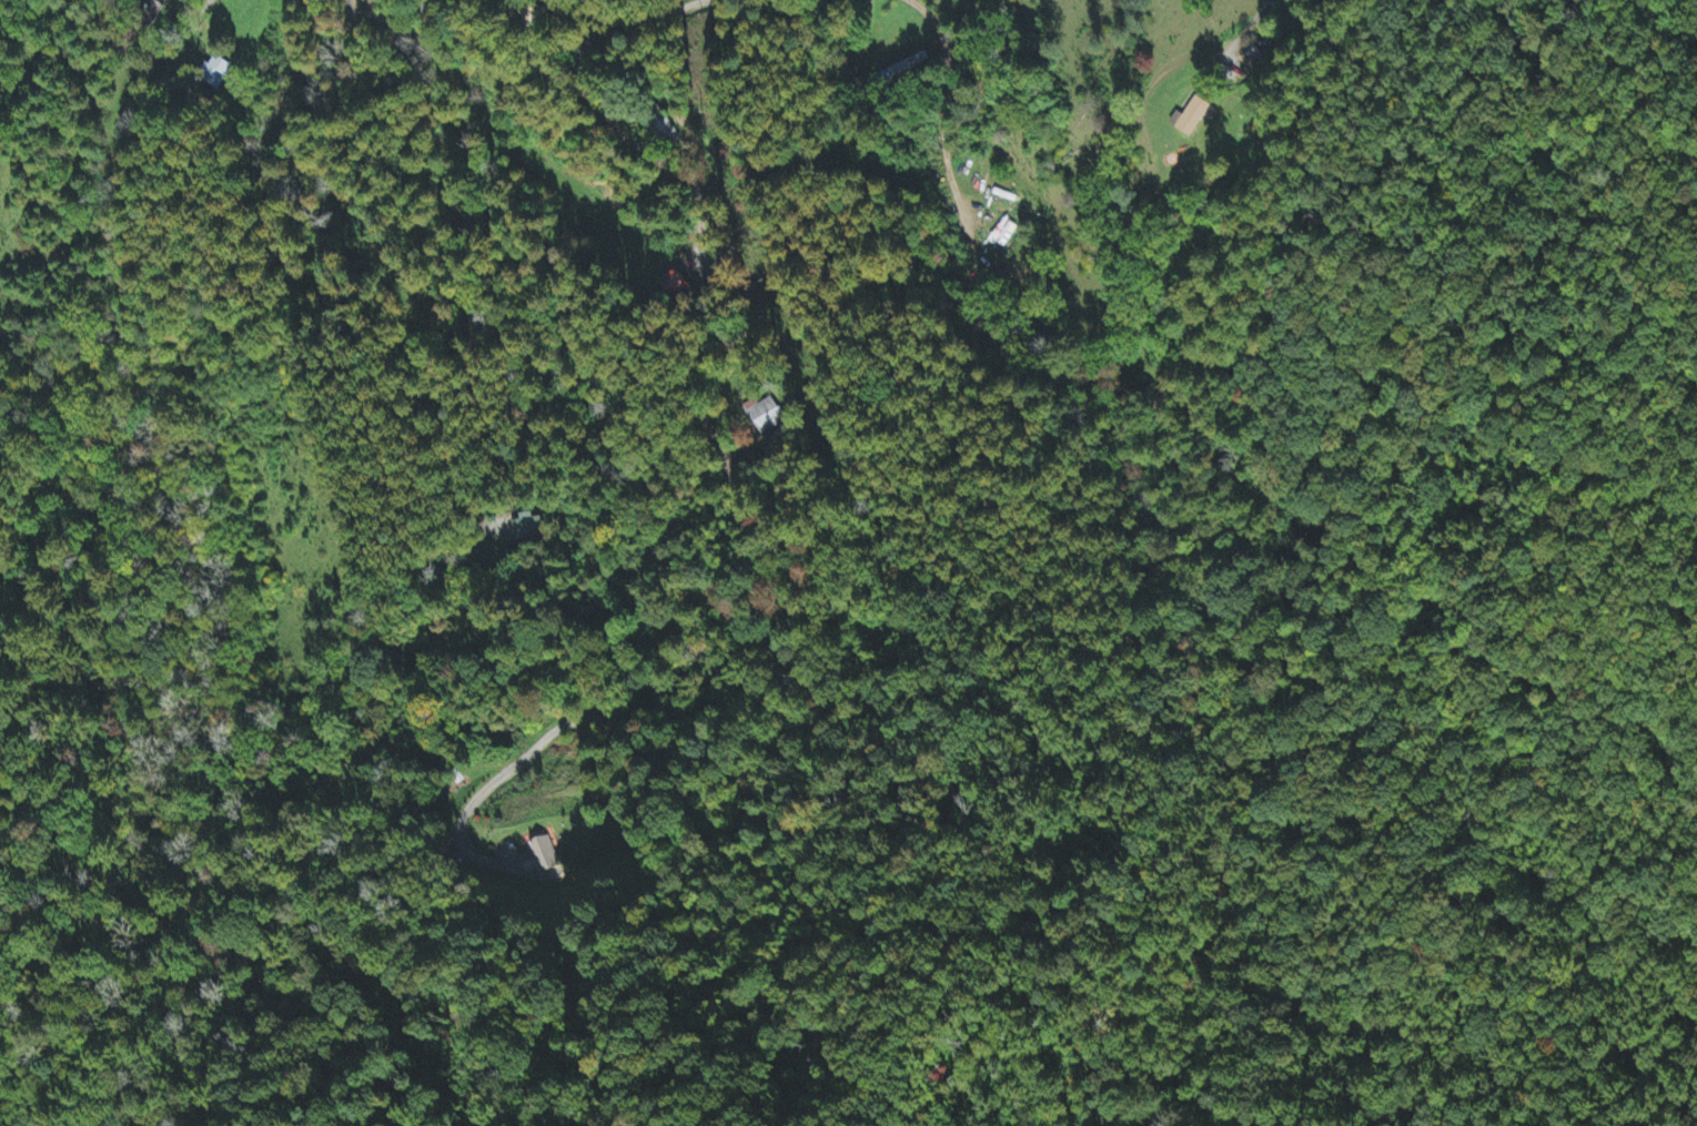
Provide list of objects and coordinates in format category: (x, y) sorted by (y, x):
road: (202, 10)
road: (777, 10)
building: (1194, 116)
road: (677, 172)
building: (764, 416)
building: (526, 527)
building: (548, 862)

